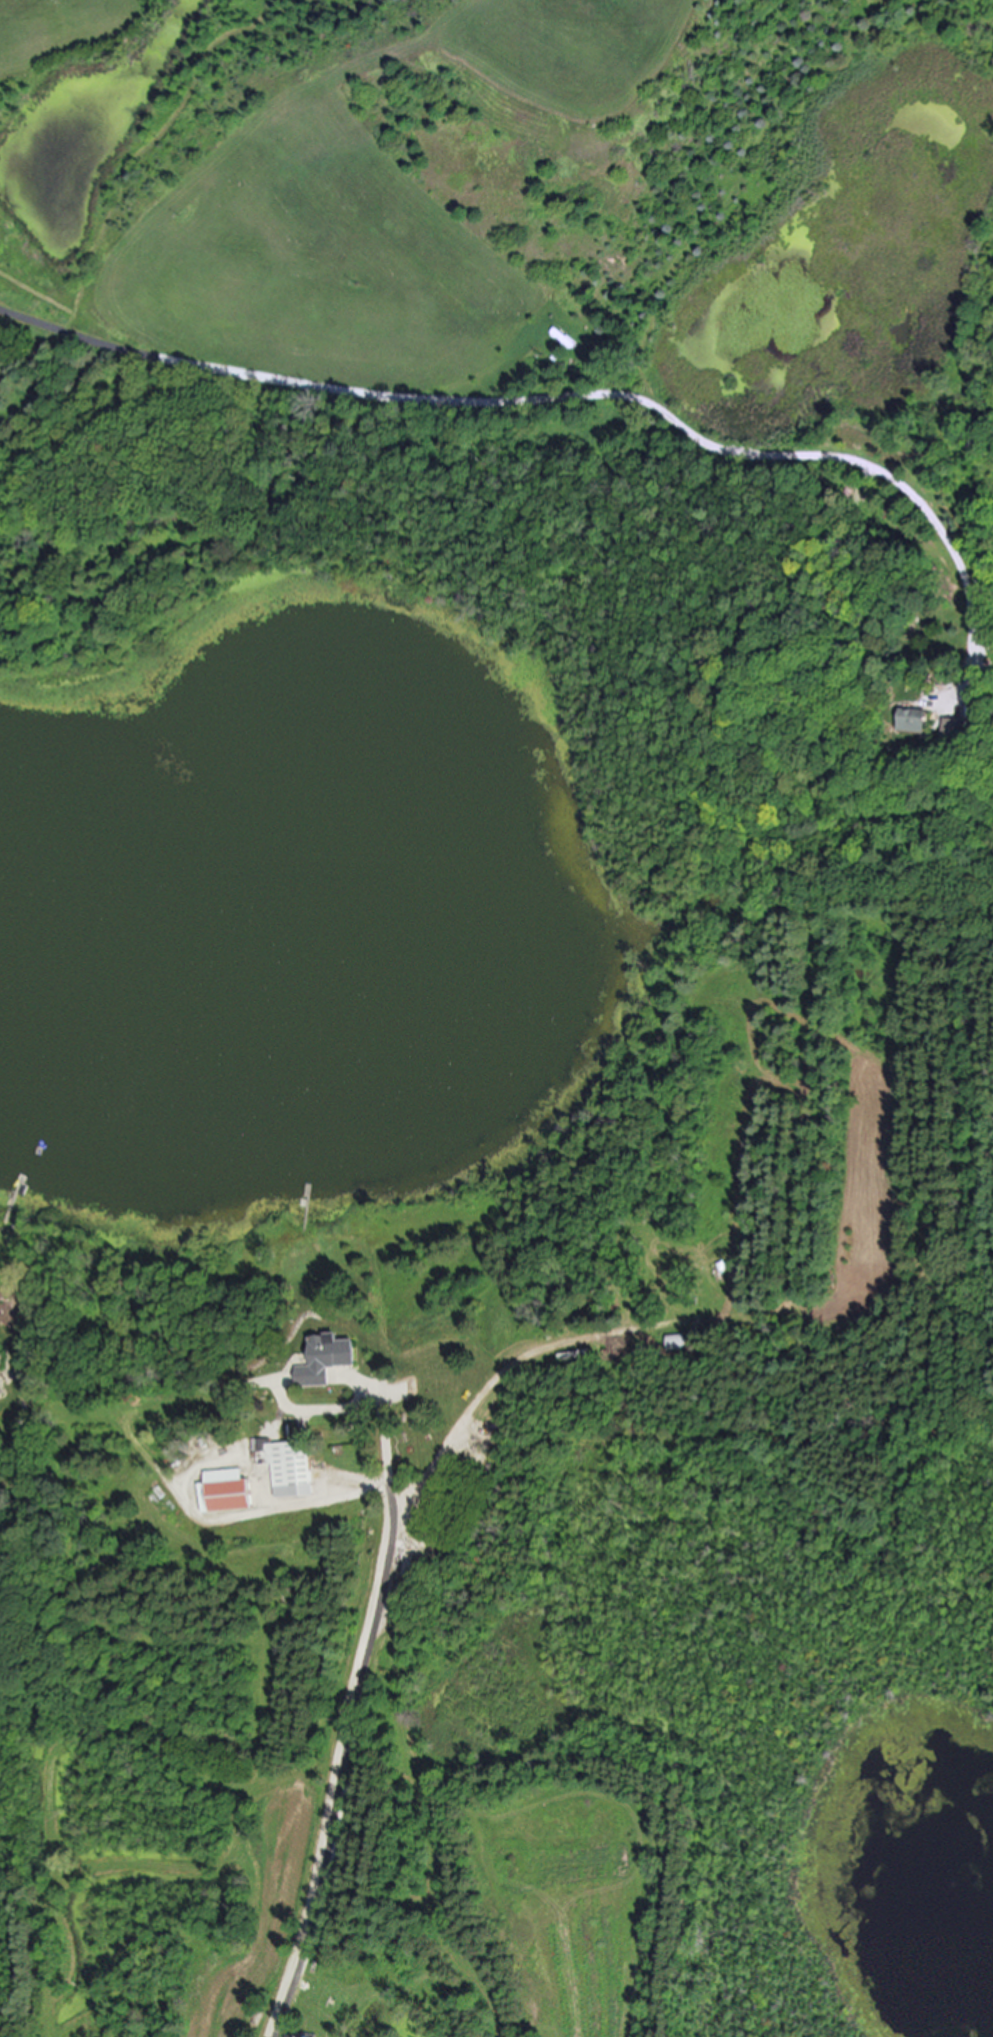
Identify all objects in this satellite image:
road: (568, 392)
building: (915, 721)
building: (957, 730)
building: (674, 1343)
building: (0, 1356)
building: (323, 1360)
building: (1, 1393)
building: (287, 1471)
building: (221, 1492)
road: (348, 1717)

